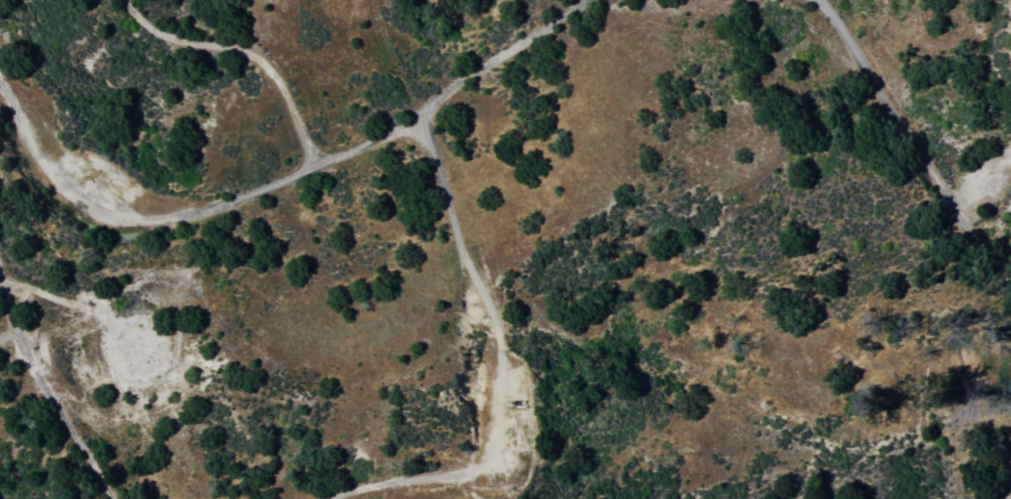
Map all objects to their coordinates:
road: (241, 53)
road: (910, 146)
road: (283, 179)
road: (484, 363)
road: (47, 392)
road: (1006, 489)

